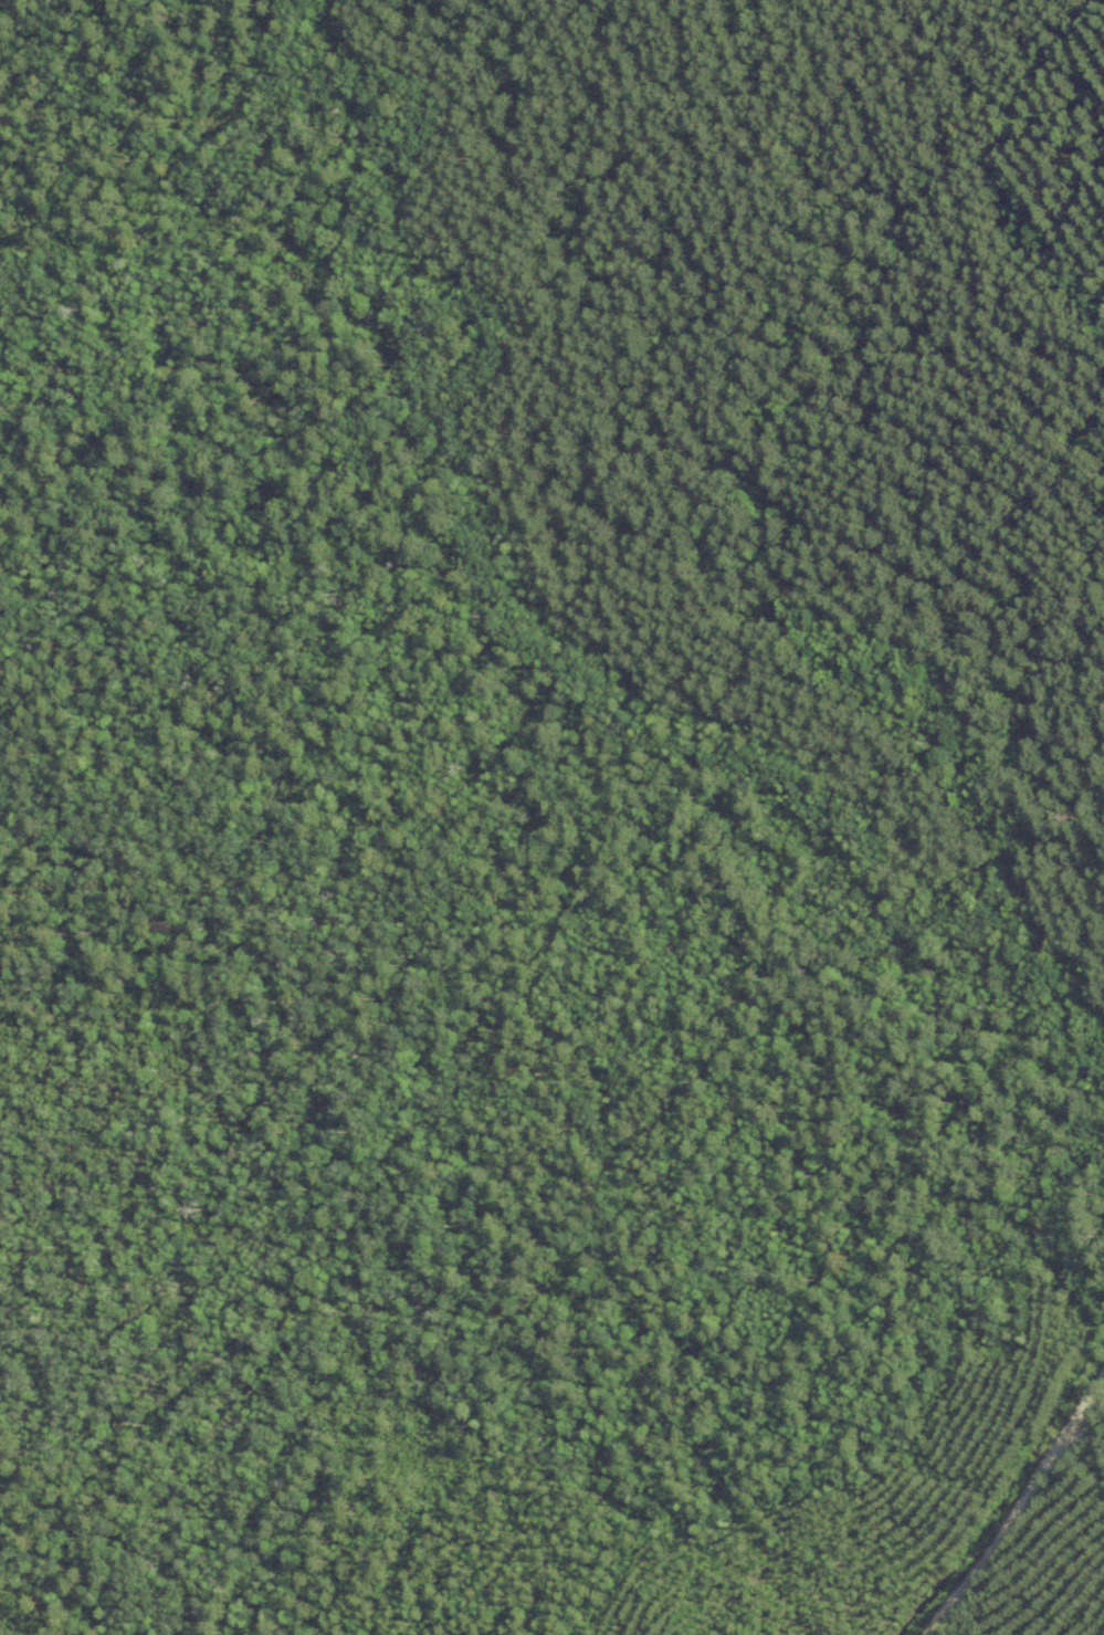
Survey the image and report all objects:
road: (1019, 1509)

